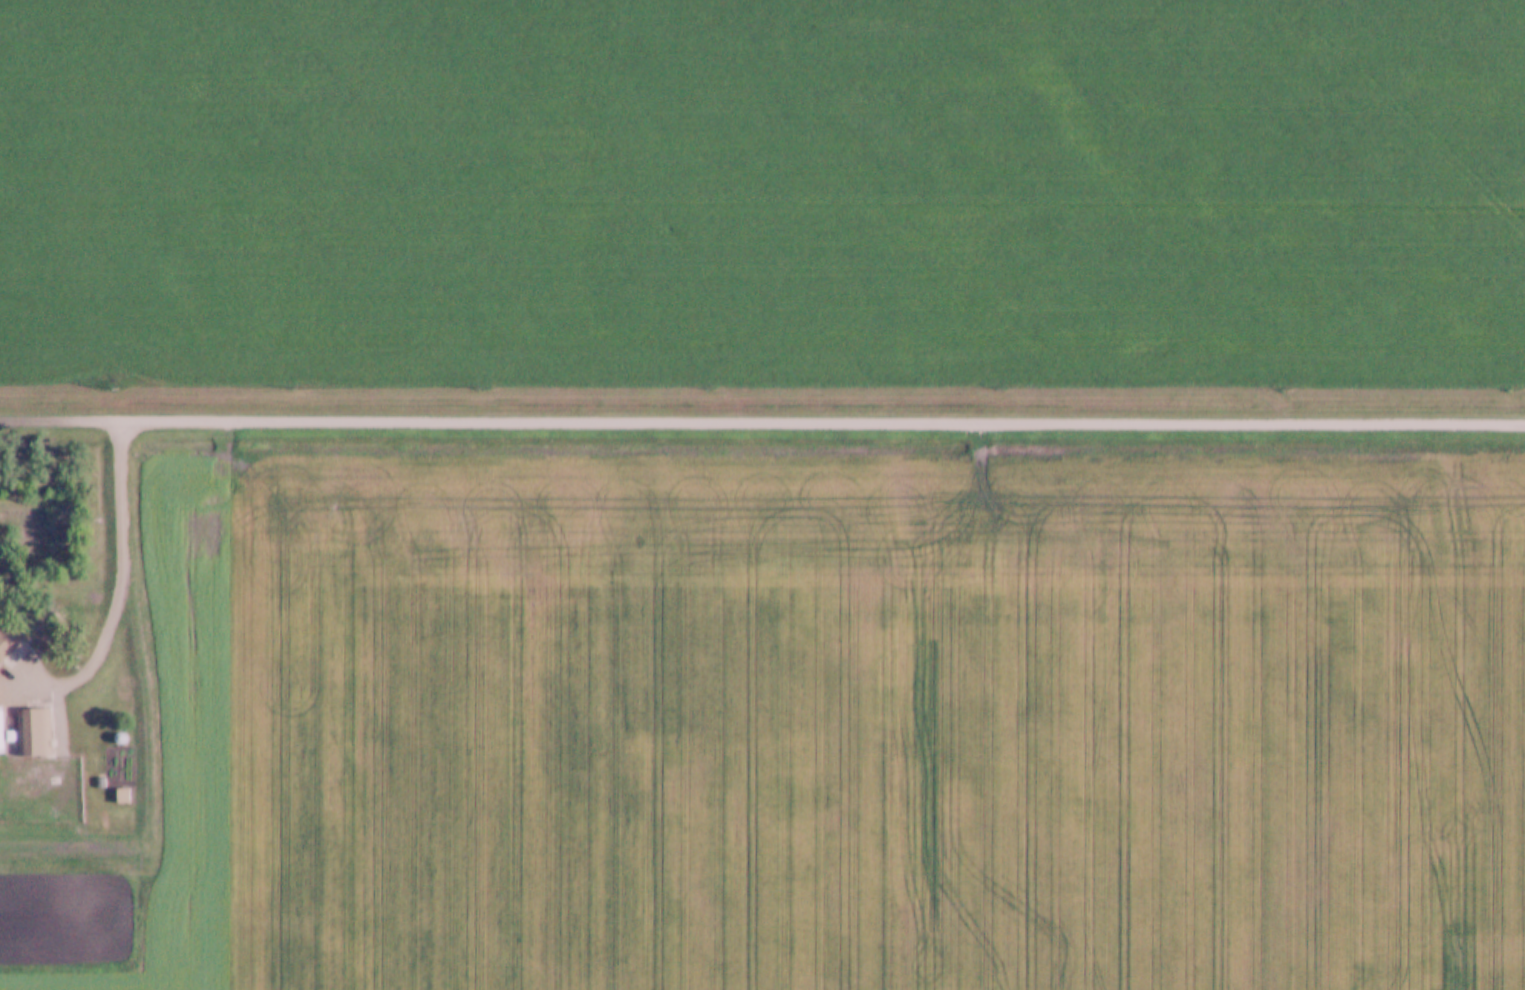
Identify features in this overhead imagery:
building: (23, 637)
building: (39, 732)

